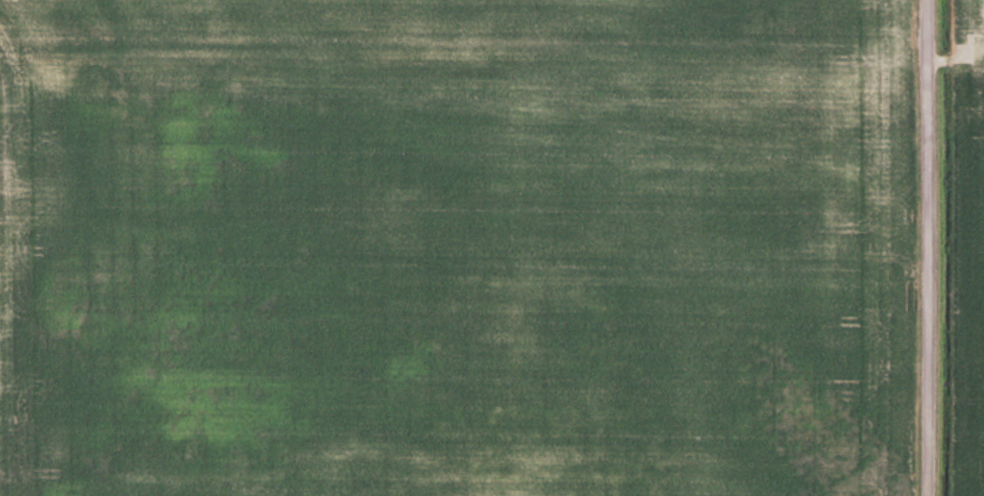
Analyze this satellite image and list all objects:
crop: (454, 248)
road: (926, 248)
crop: (965, 249)

